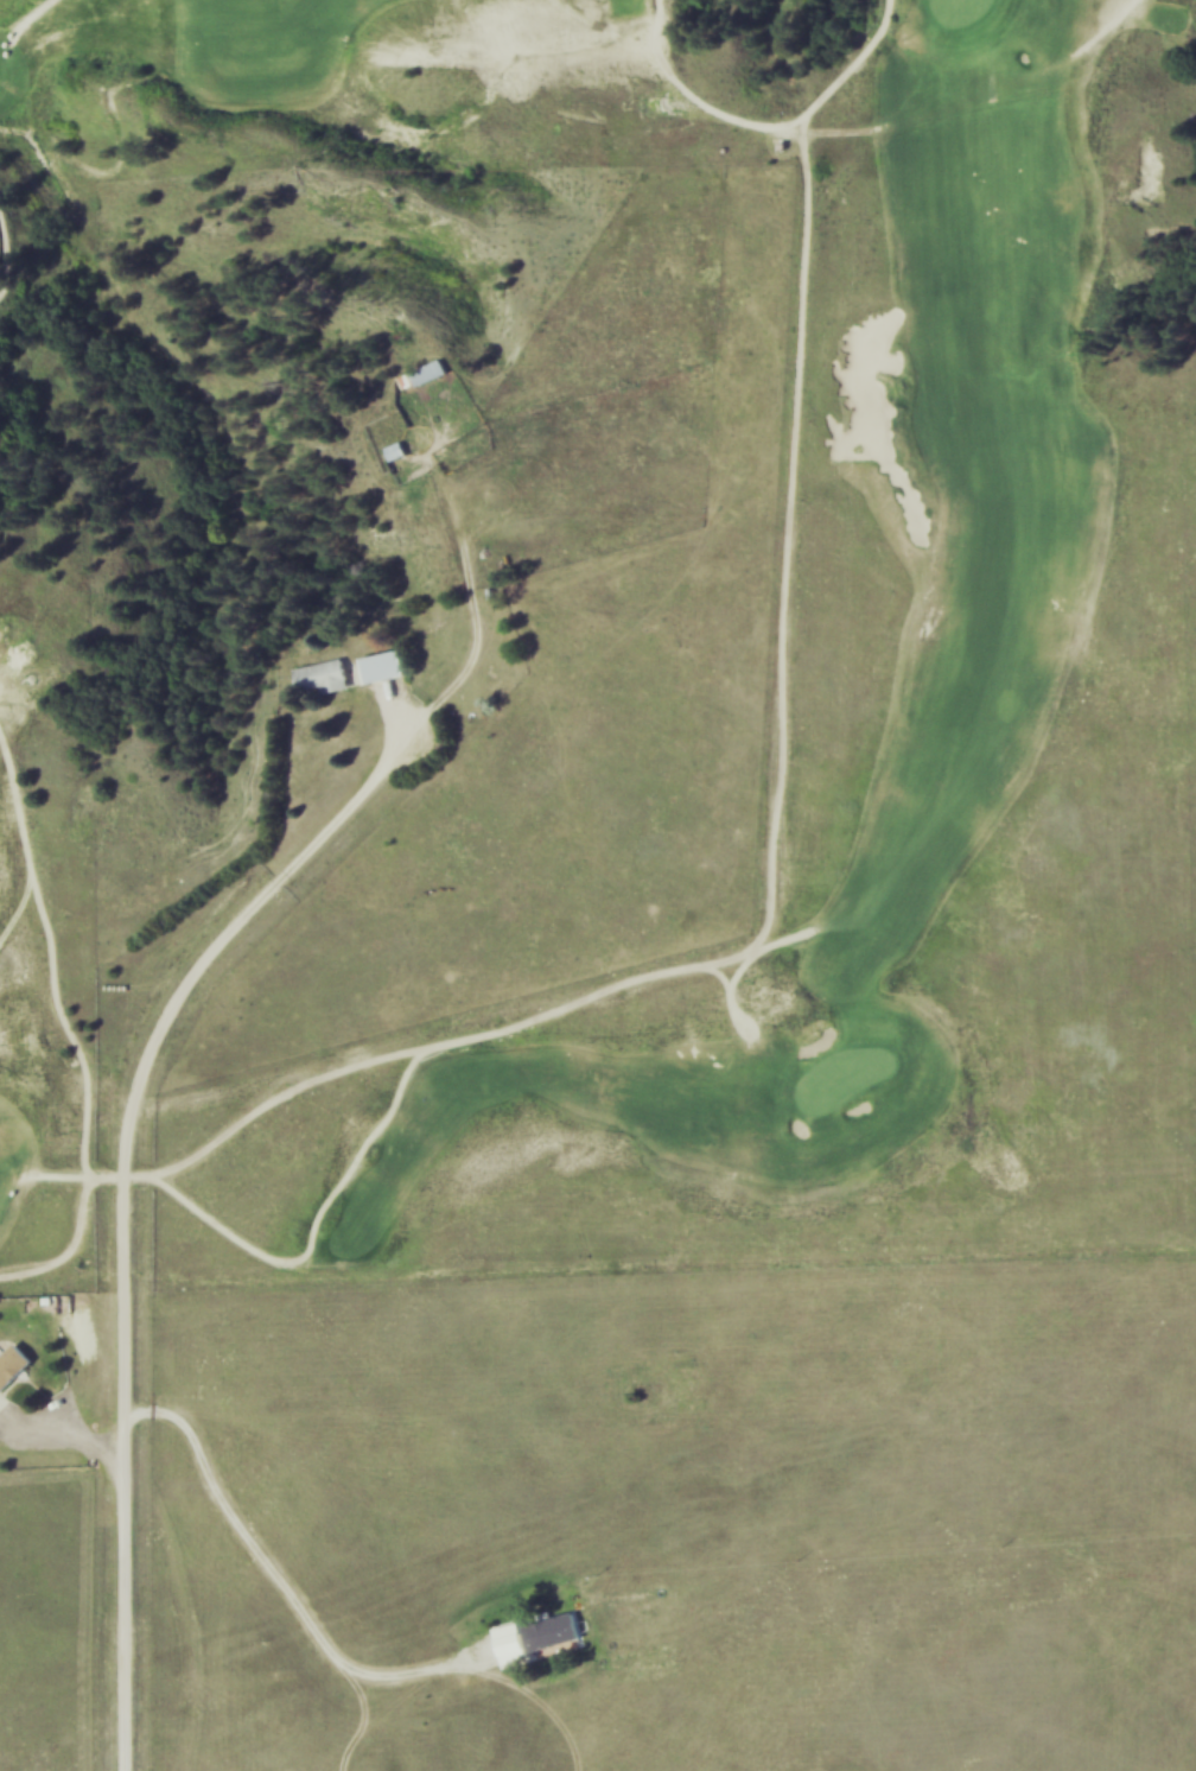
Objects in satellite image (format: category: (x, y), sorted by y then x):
building: (432, 372)
building: (397, 450)
building: (386, 665)
building: (325, 674)
road: (122, 1181)
building: (13, 1366)

